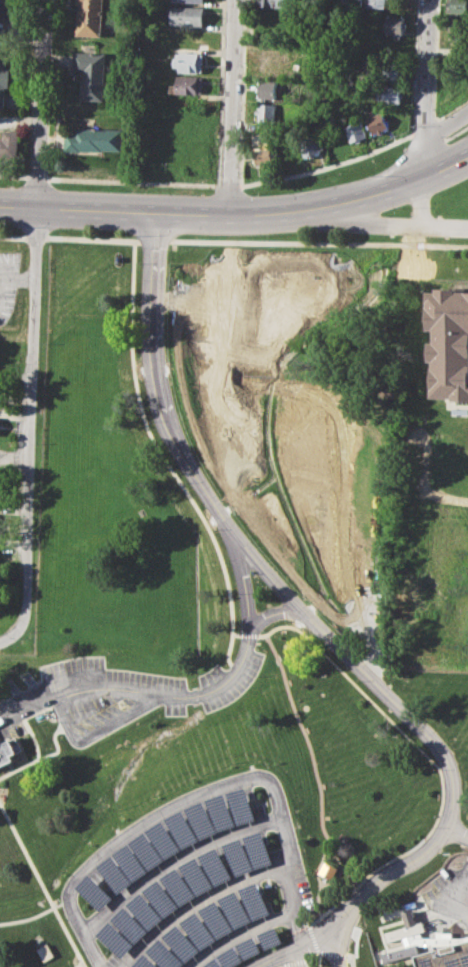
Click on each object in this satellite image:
building: (192, 0)
building: (277, 3)
building: (376, 3)
building: (459, 6)
building: (7, 10)
building: (187, 15)
building: (90, 18)
building: (395, 25)
building: (459, 26)
building: (190, 62)
building: (270, 65)
road: (427, 67)
building: (392, 70)
building: (92, 74)
building: (4, 78)
building: (188, 85)
building: (270, 90)
building: (389, 93)
road: (232, 107)
building: (269, 114)
building: (378, 123)
road: (447, 124)
building: (357, 131)
road: (456, 133)
road: (428, 136)
building: (94, 139)
building: (259, 141)
building: (10, 144)
building: (313, 146)
building: (287, 152)
road: (431, 154)
building: (264, 156)
road: (328, 167)
street lamp: (49, 174)
road: (14, 176)
road: (38, 177)
street lamp: (239, 177)
road: (134, 182)
park: (437, 184)
street lamp: (9, 185)
road: (229, 186)
street lamp: (132, 189)
street lamp: (257, 192)
road: (315, 205)
street lamp: (398, 207)
road: (77, 210)
road: (378, 224)
street lamp: (12, 228)
street lamp: (132, 235)
street lamp: (266, 235)
road: (233, 241)
street lamp: (47, 244)
road: (18, 277)
parking lot: (8, 283)
road: (35, 321)
building: (449, 342)
road: (157, 444)
building: (3, 525)
road: (250, 546)
road: (276, 611)
road: (4, 639)
parking lot: (227, 680)
road: (197, 694)
parking lot: (106, 695)
road: (56, 746)
building: (9, 750)
road: (37, 752)
road: (434, 763)
road: (317, 772)
building: (243, 805)
building: (222, 812)
road: (152, 817)
building: (202, 819)
building: (183, 829)
road: (458, 834)
building: (165, 839)
building: (259, 848)
building: (148, 851)
building: (238, 855)
road: (173, 861)
road: (287, 861)
building: (132, 862)
road: (344, 862)
building: (217, 865)
building: (328, 870)
building: (116, 874)
building: (198, 875)
road: (385, 876)
parking lot: (191, 878)
building: (179, 886)
road: (42, 887)
building: (95, 892)
parking lot: (449, 892)
building: (162, 898)
building: (256, 900)
road: (197, 903)
building: (235, 909)
building: (146, 910)
road: (34, 915)
building: (217, 919)
building: (131, 924)
building: (405, 927)
building: (199, 930)
road: (238, 933)
road: (85, 935)
road: (315, 936)
building: (271, 937)
building: (116, 939)
building: (411, 941)
building: (182, 943)
building: (249, 947)
road: (332, 947)
building: (166, 955)
road: (277, 955)
building: (230, 957)
road: (296, 957)
building: (448, 957)
building: (146, 962)
building: (214, 963)
road: (83, 964)

